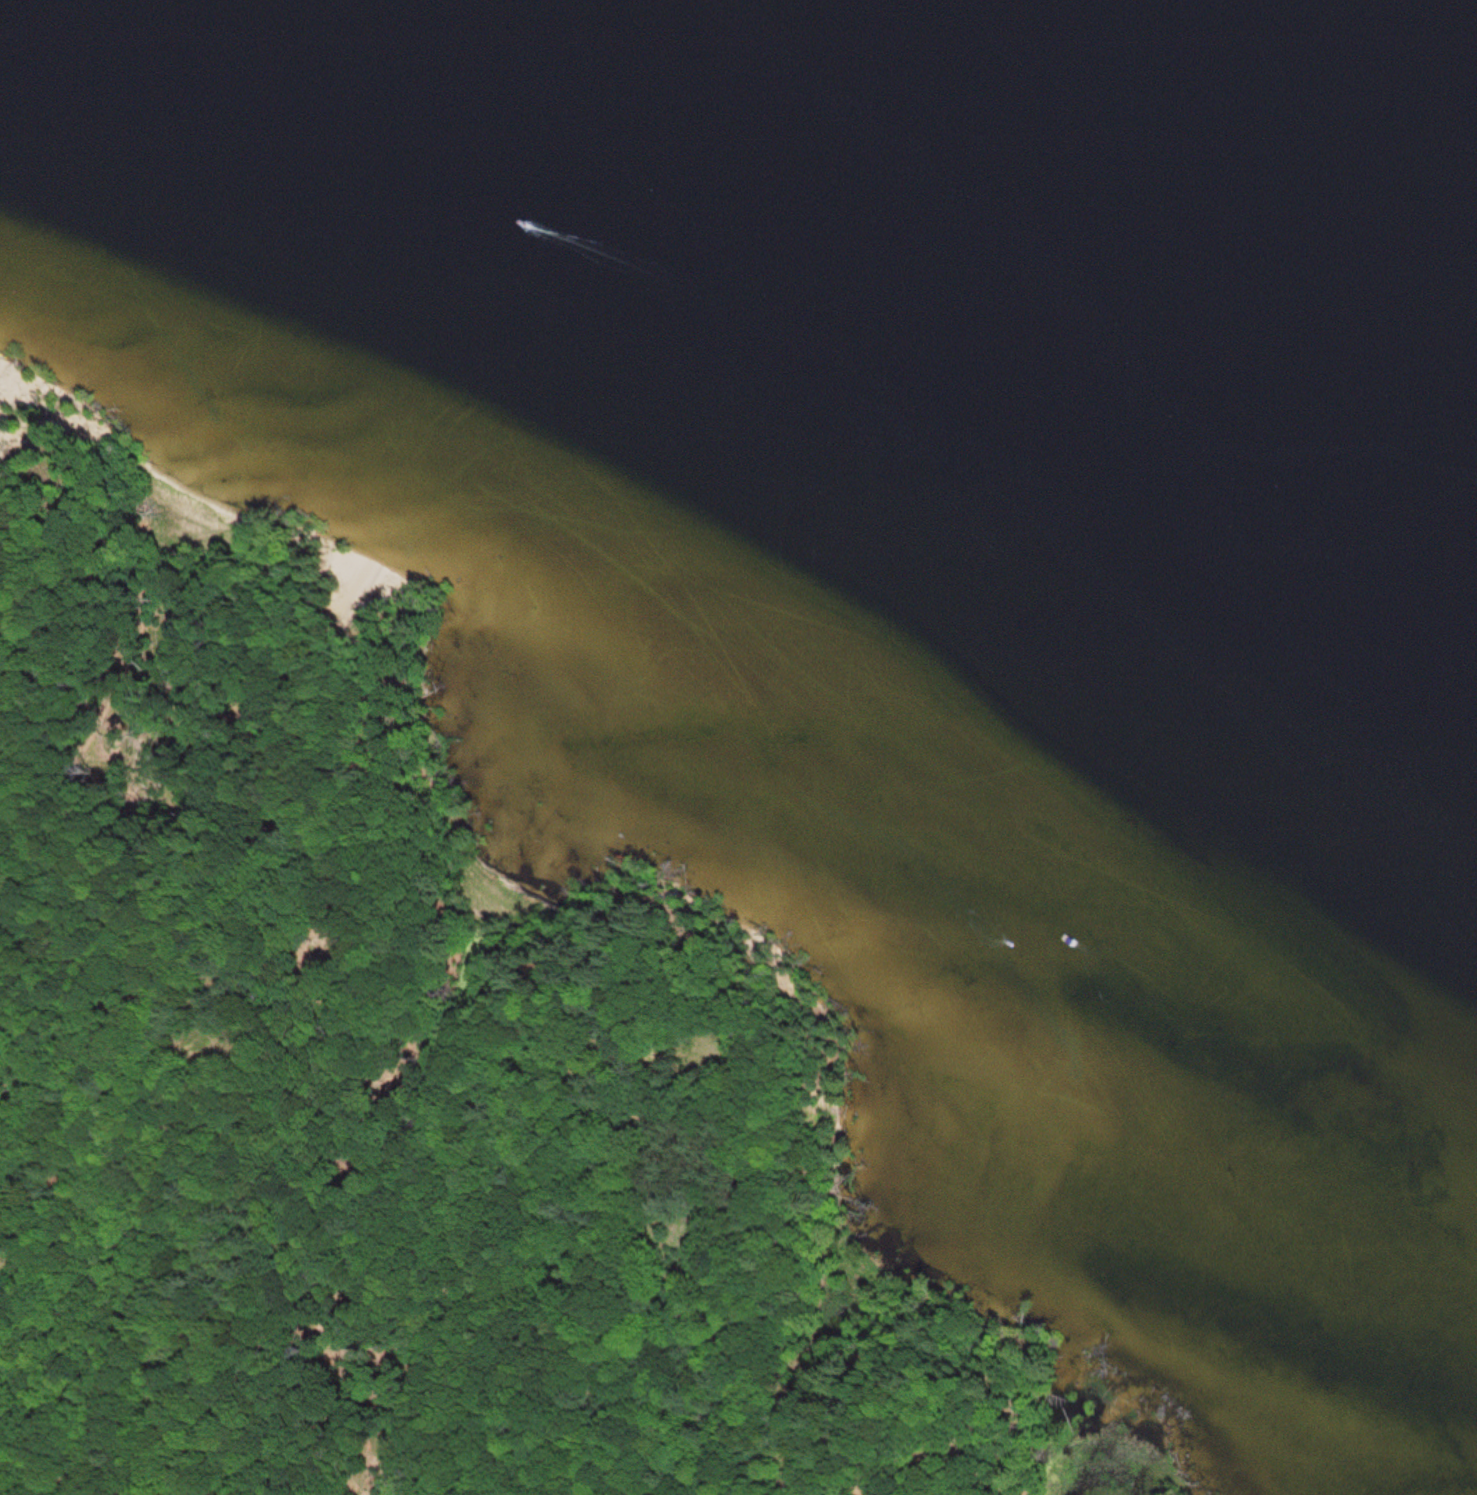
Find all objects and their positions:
park: (419, 1092)

